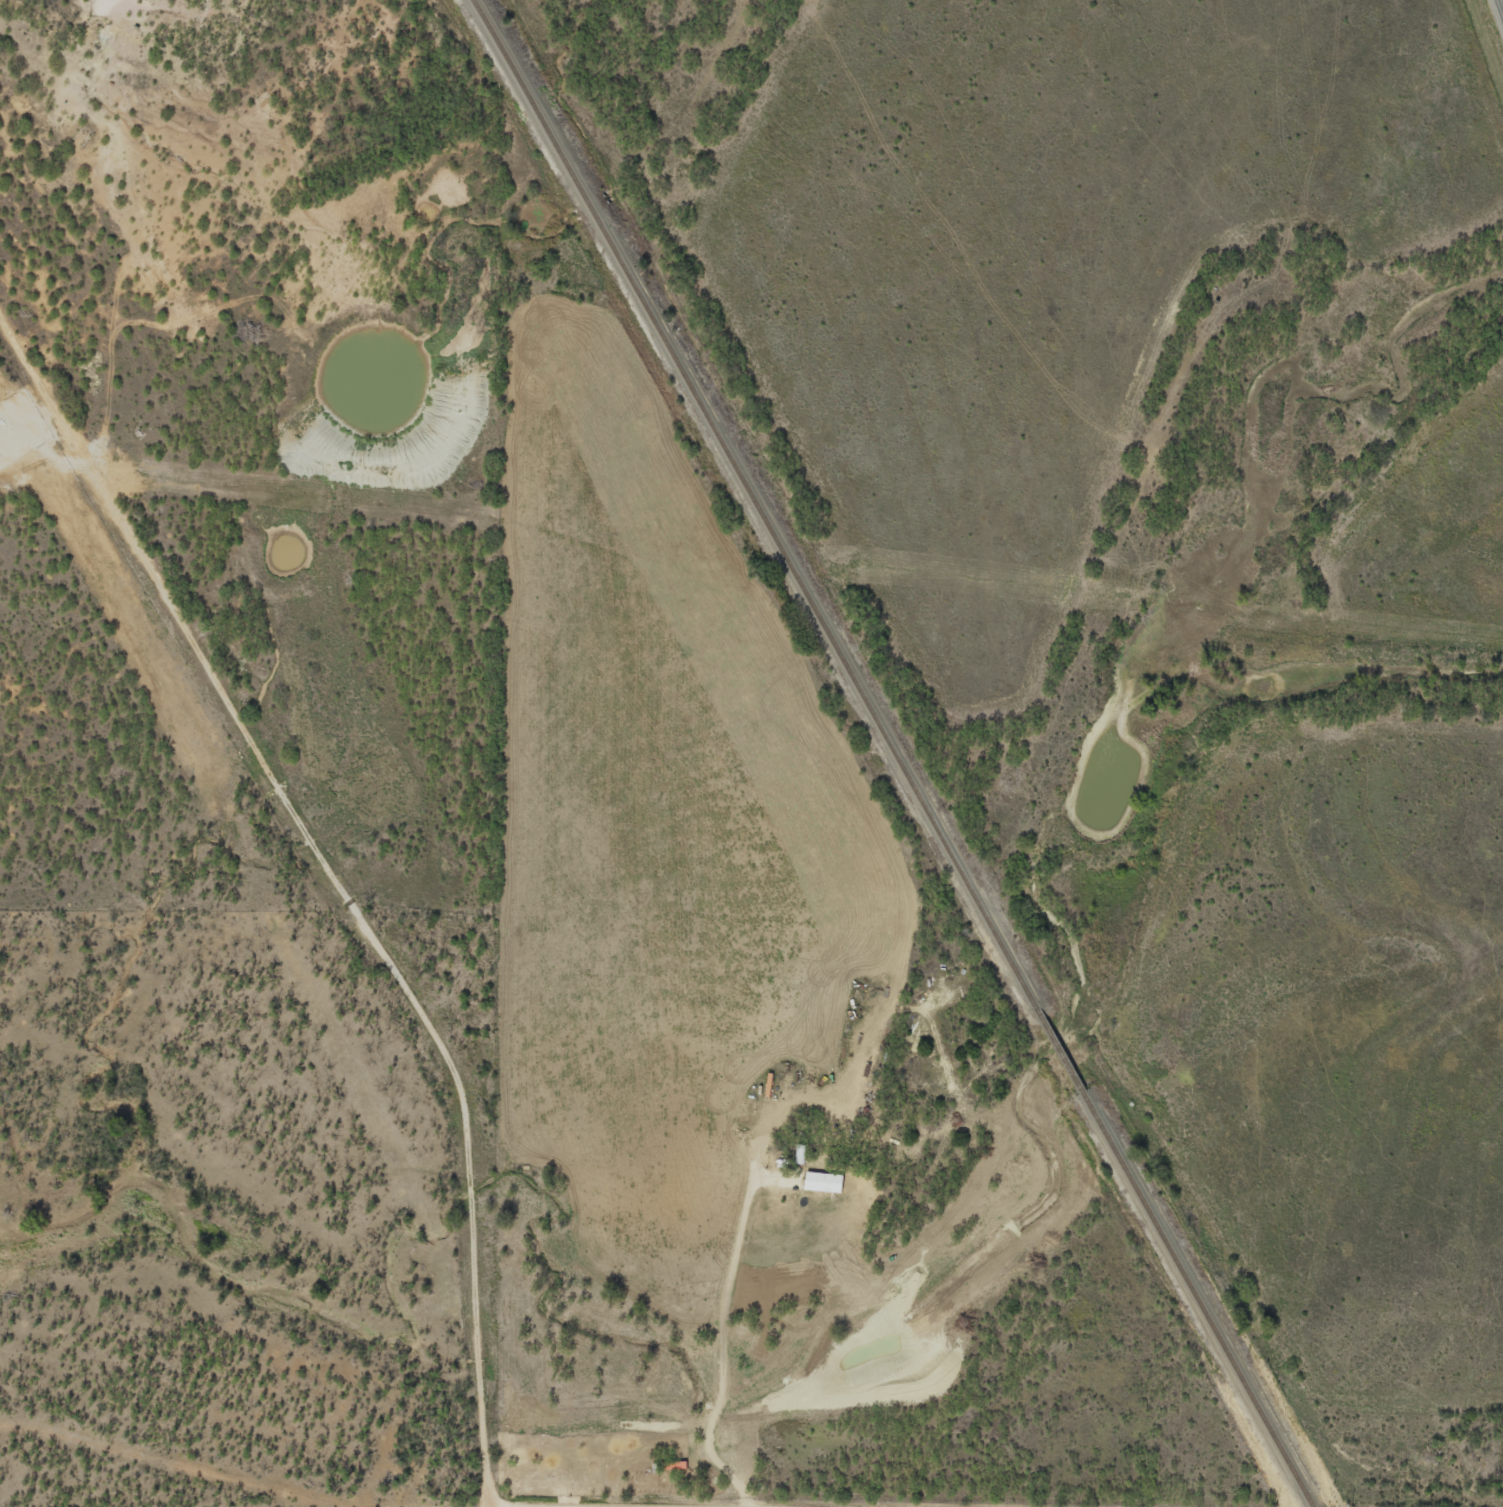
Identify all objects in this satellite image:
railway: (892, 753)
road: (314, 909)
building: (820, 1181)
building: (671, 1465)
road: (96, 1484)

